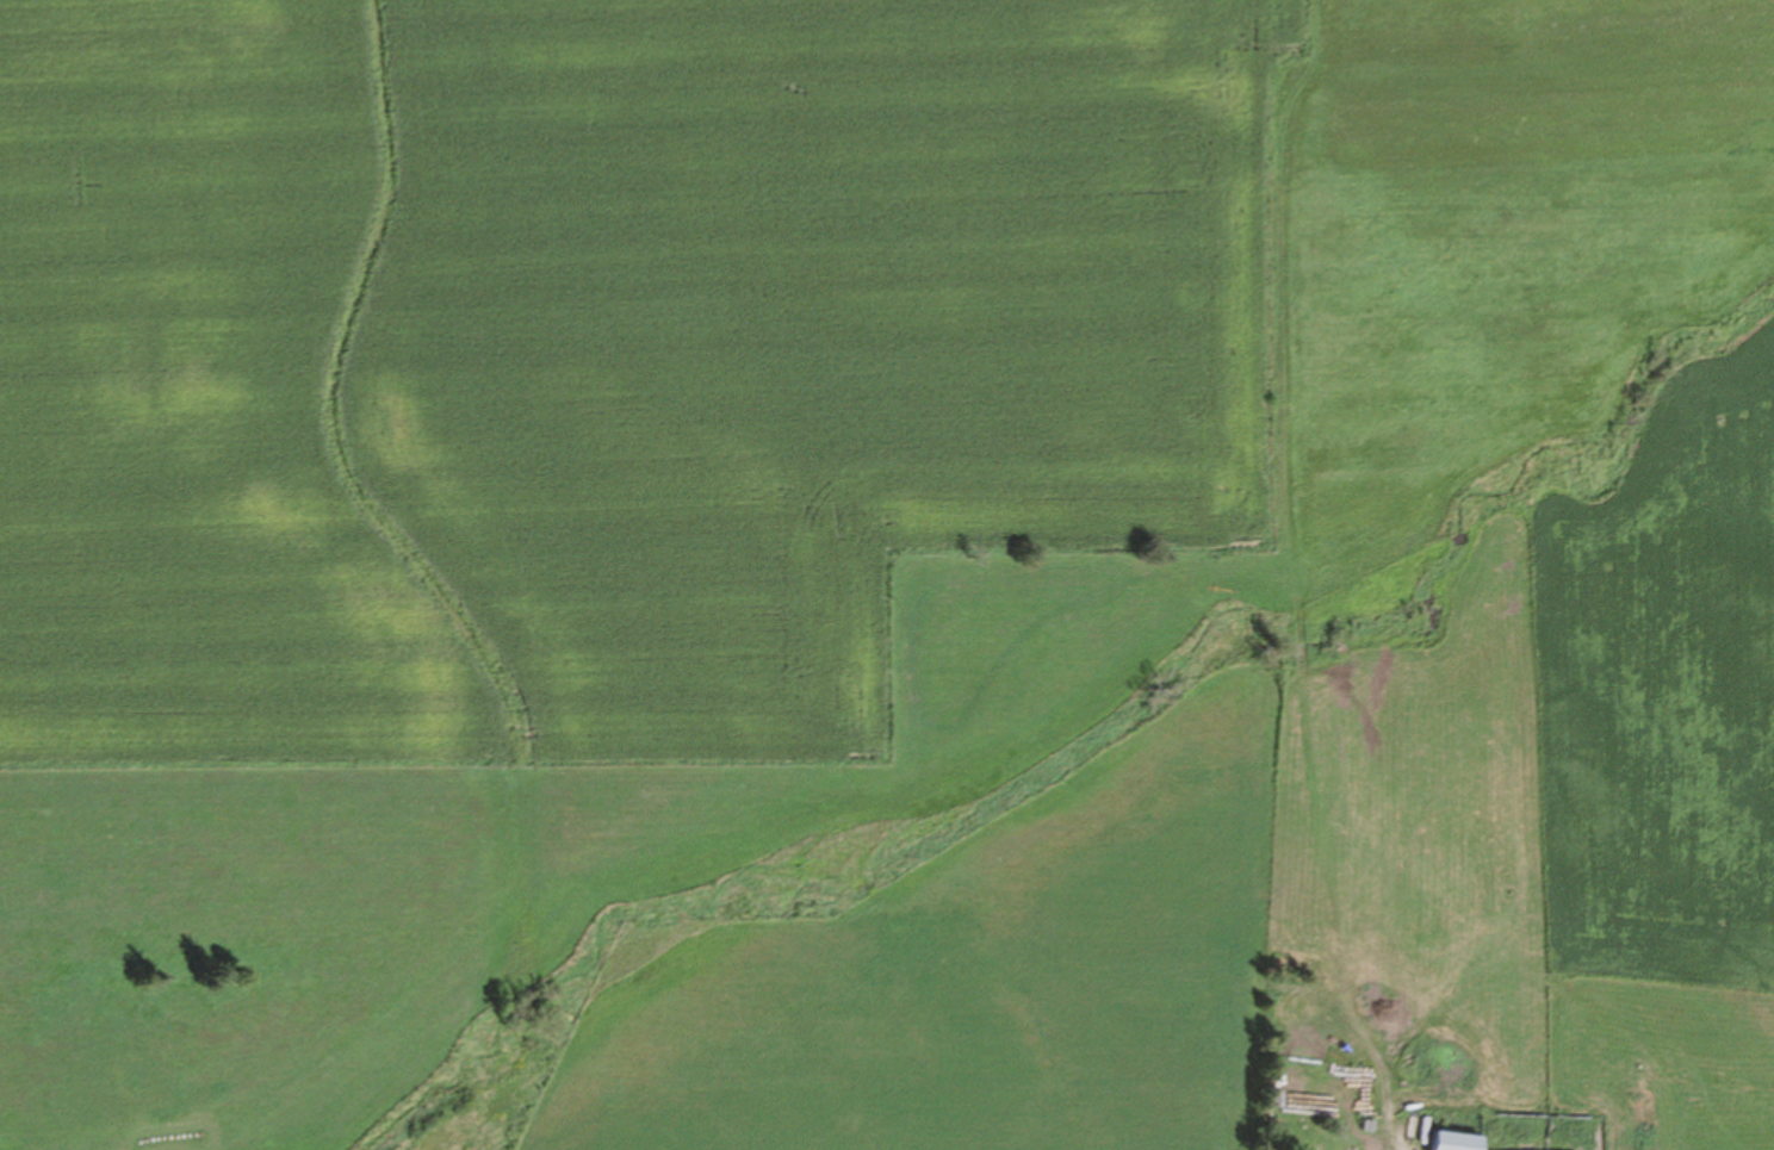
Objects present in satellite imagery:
building: (1449, 1142)

